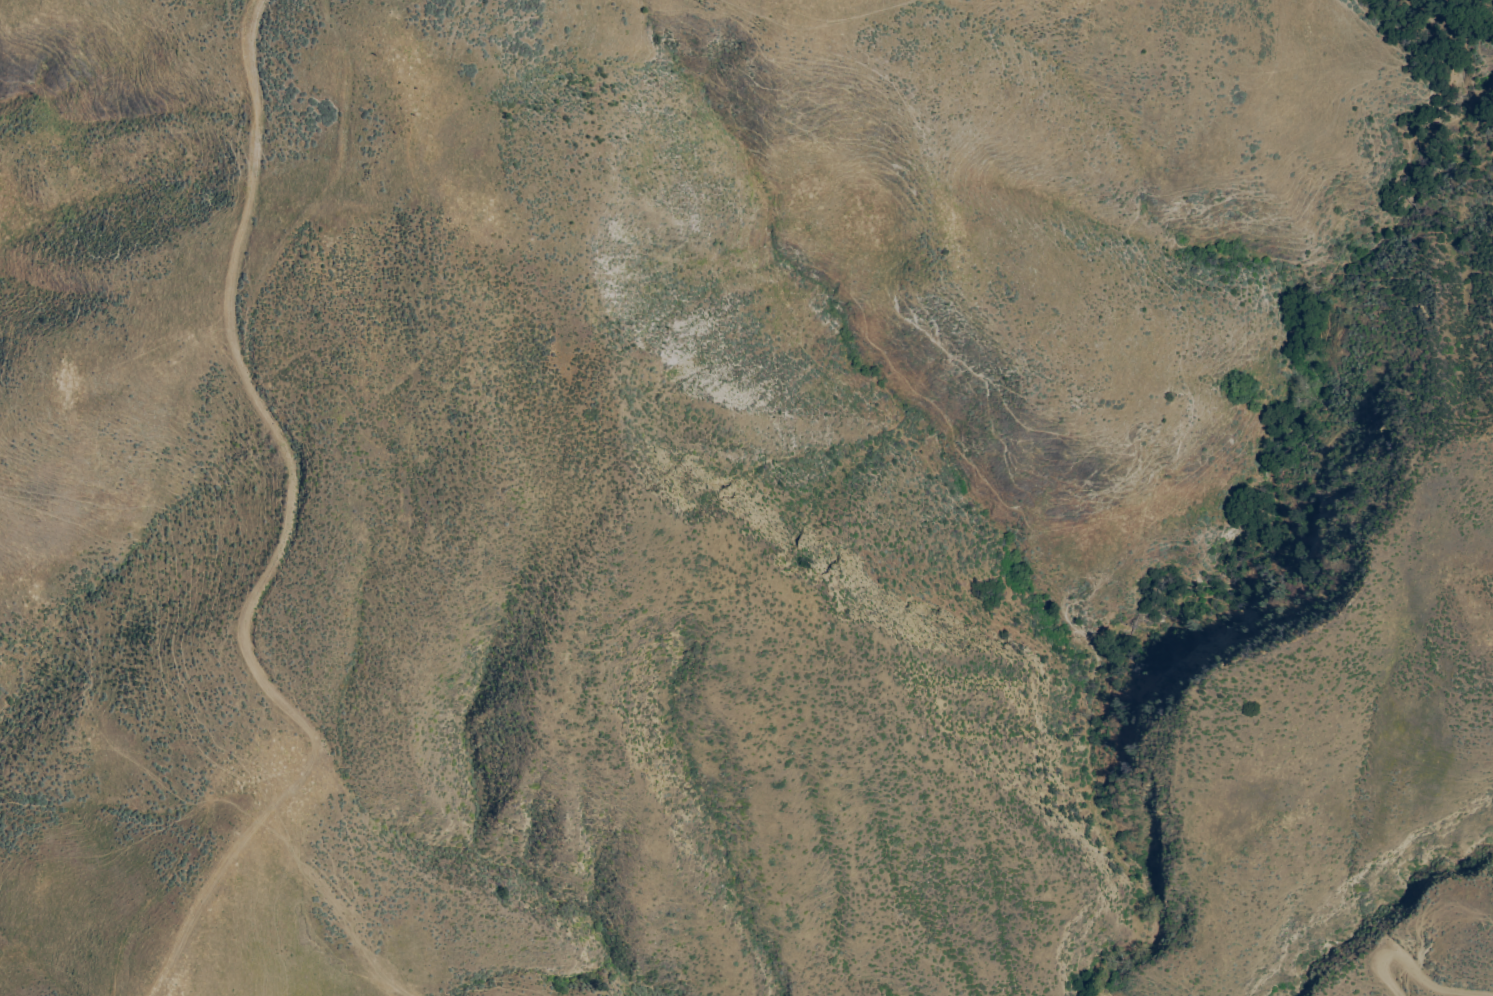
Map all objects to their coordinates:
road: (1406, 959)

